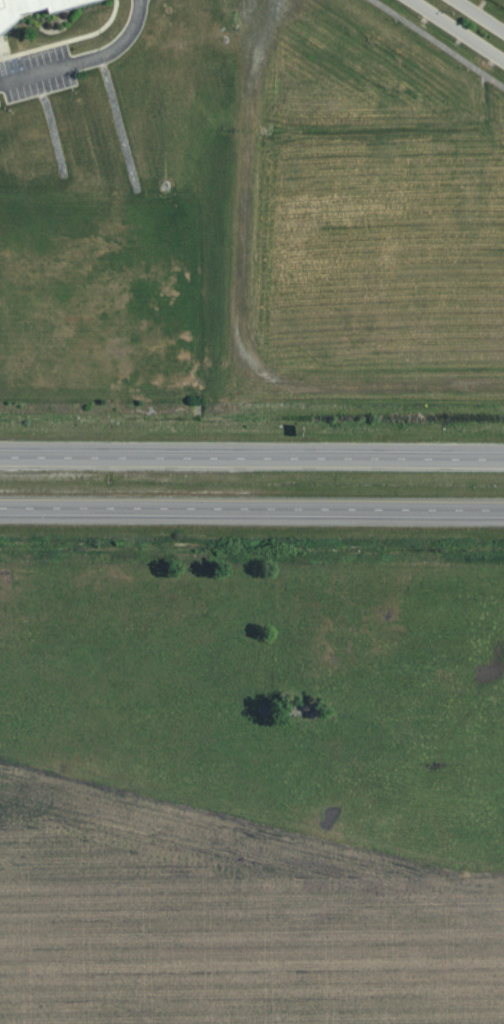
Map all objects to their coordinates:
building: (31, 8)
road: (479, 16)
road: (457, 30)
road: (437, 43)
road: (86, 60)
parking lot: (36, 74)
road: (90, 452)
road: (342, 453)
road: (93, 509)
road: (344, 510)

